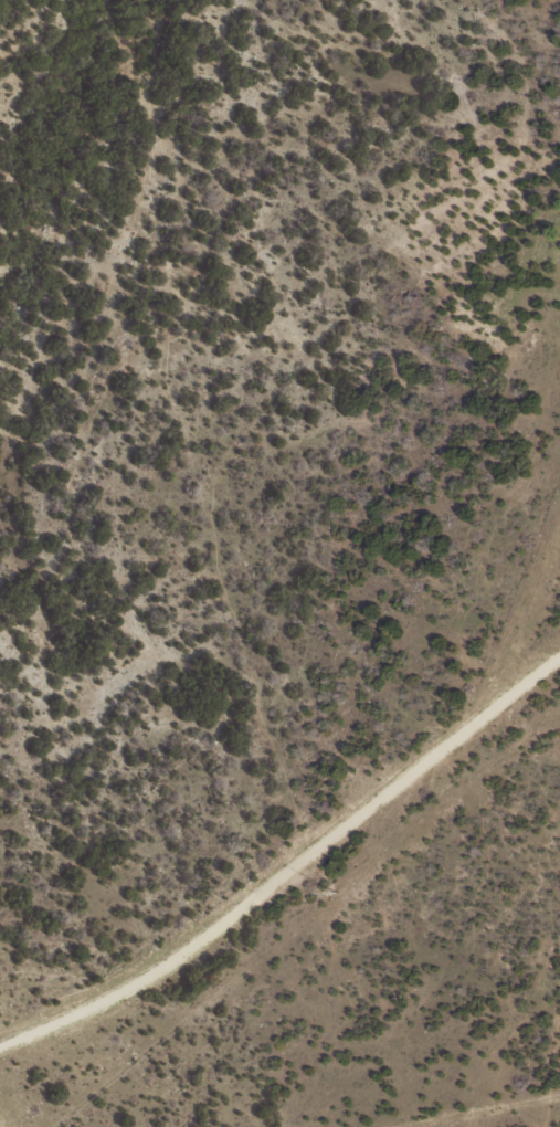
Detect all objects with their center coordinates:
power tower: (336, 892)

